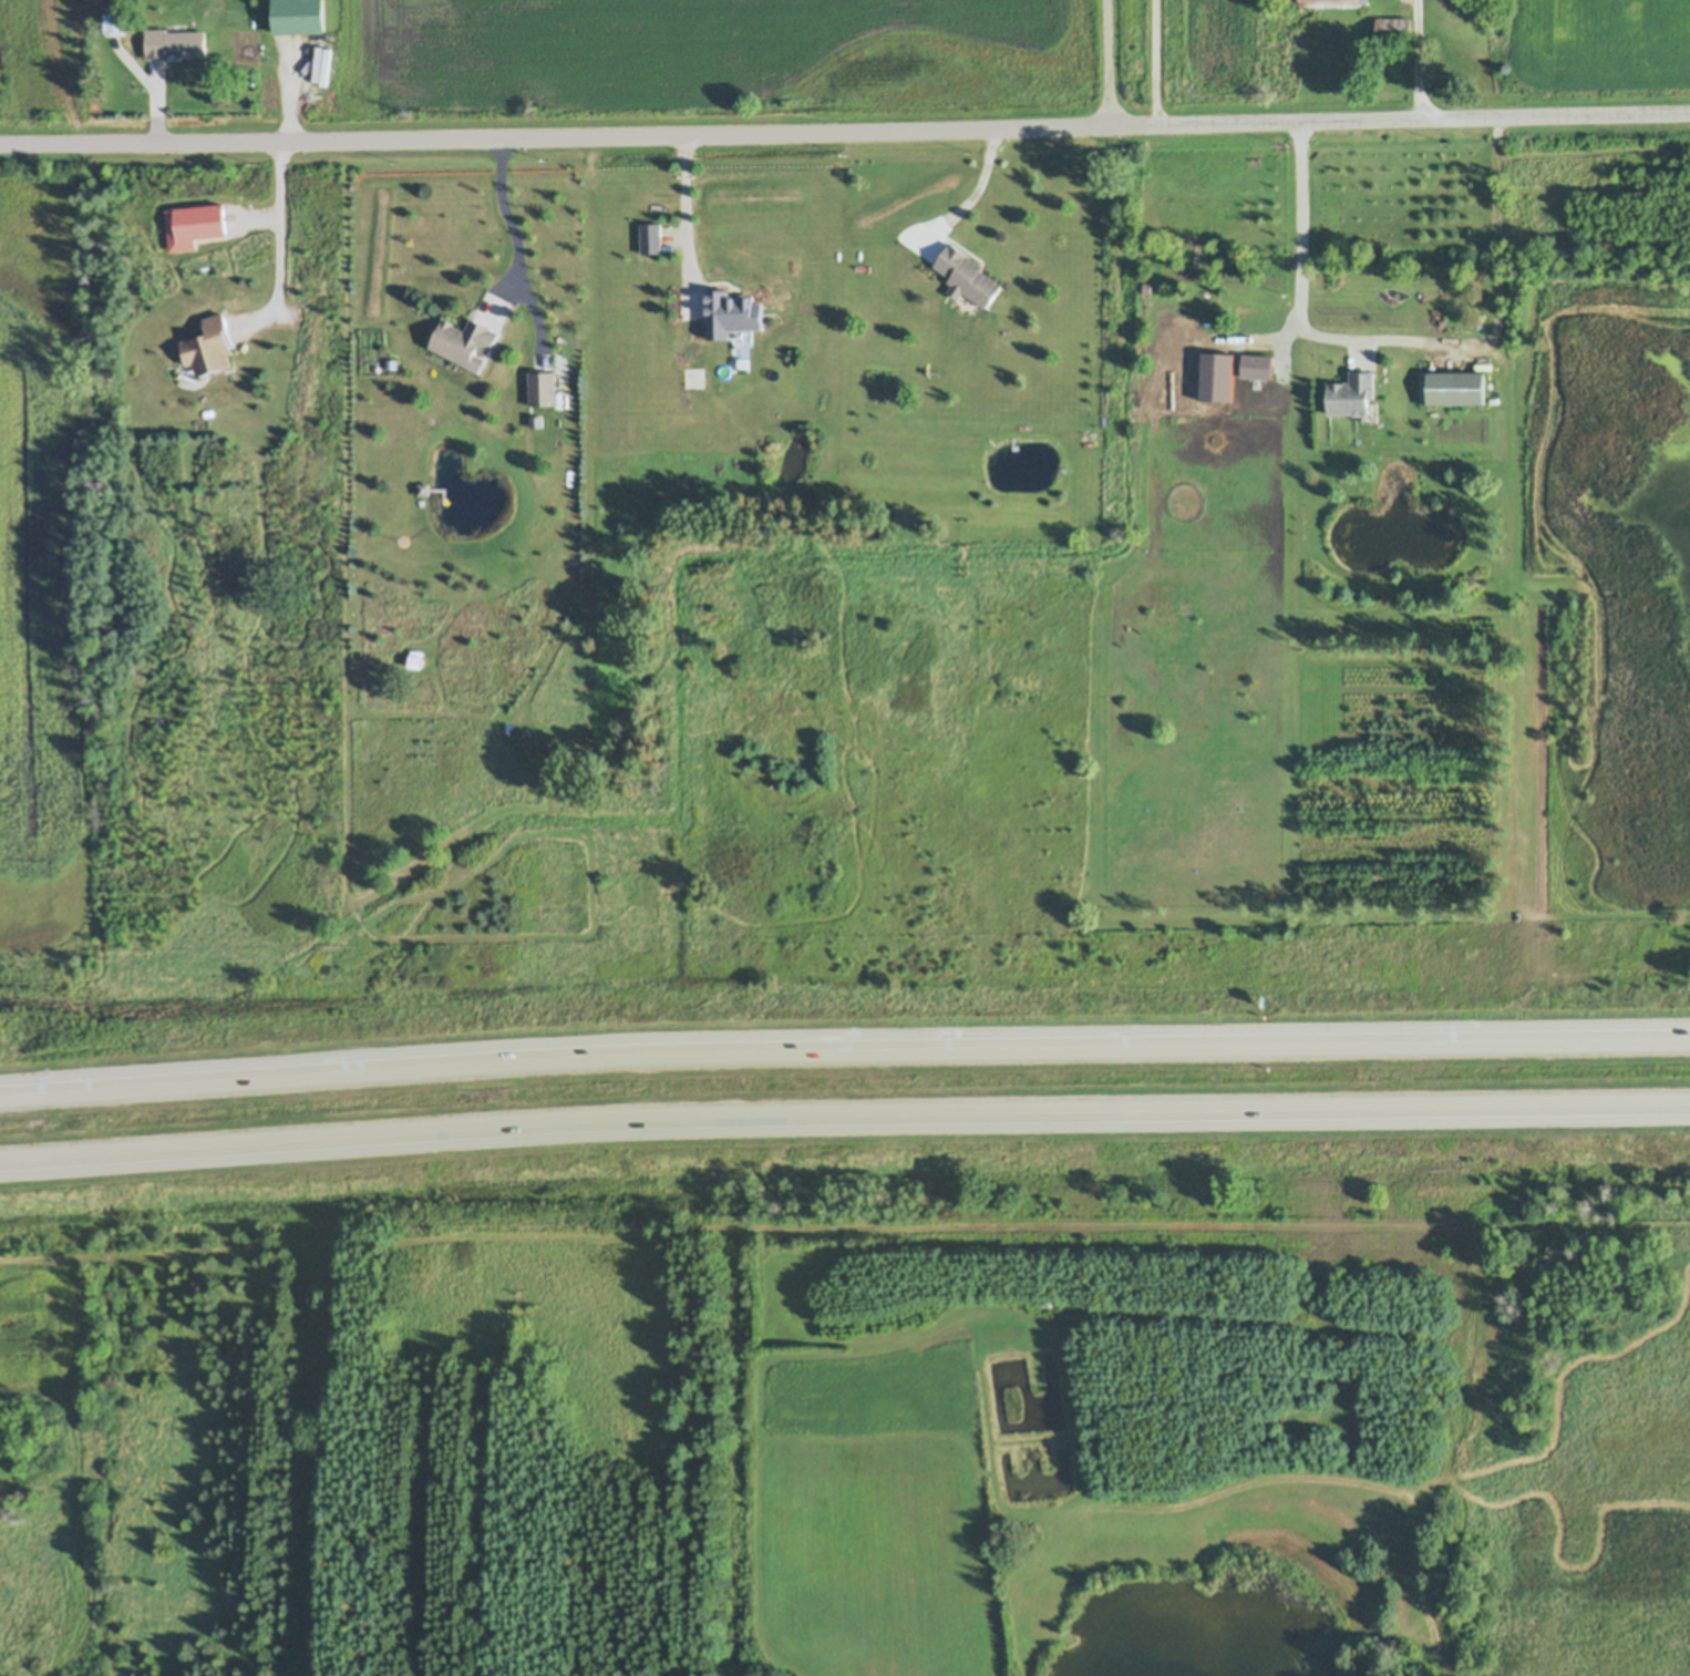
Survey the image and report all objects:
building: (1336, 9)
building: (300, 18)
building: (117, 22)
building: (1394, 29)
building: (174, 43)
road: (1428, 60)
road: (1165, 63)
road: (1109, 64)
road: (845, 133)
road: (979, 194)
road: (695, 213)
building: (651, 237)
road: (524, 244)
road: (287, 250)
building: (966, 276)
building: (166, 277)
building: (966, 302)
building: (735, 312)
building: (1257, 327)
building: (1203, 337)
road: (1406, 339)
building: (464, 340)
building: (212, 347)
building: (486, 362)
building: (393, 364)
building: (188, 372)
building: (543, 385)
building: (1456, 388)
building: (1354, 393)
building: (1372, 413)
building: (537, 422)
building: (424, 489)
building: (443, 497)
building: (418, 659)
building: (358, 915)
road: (844, 1048)
road: (844, 1113)
building: (1052, 1306)

